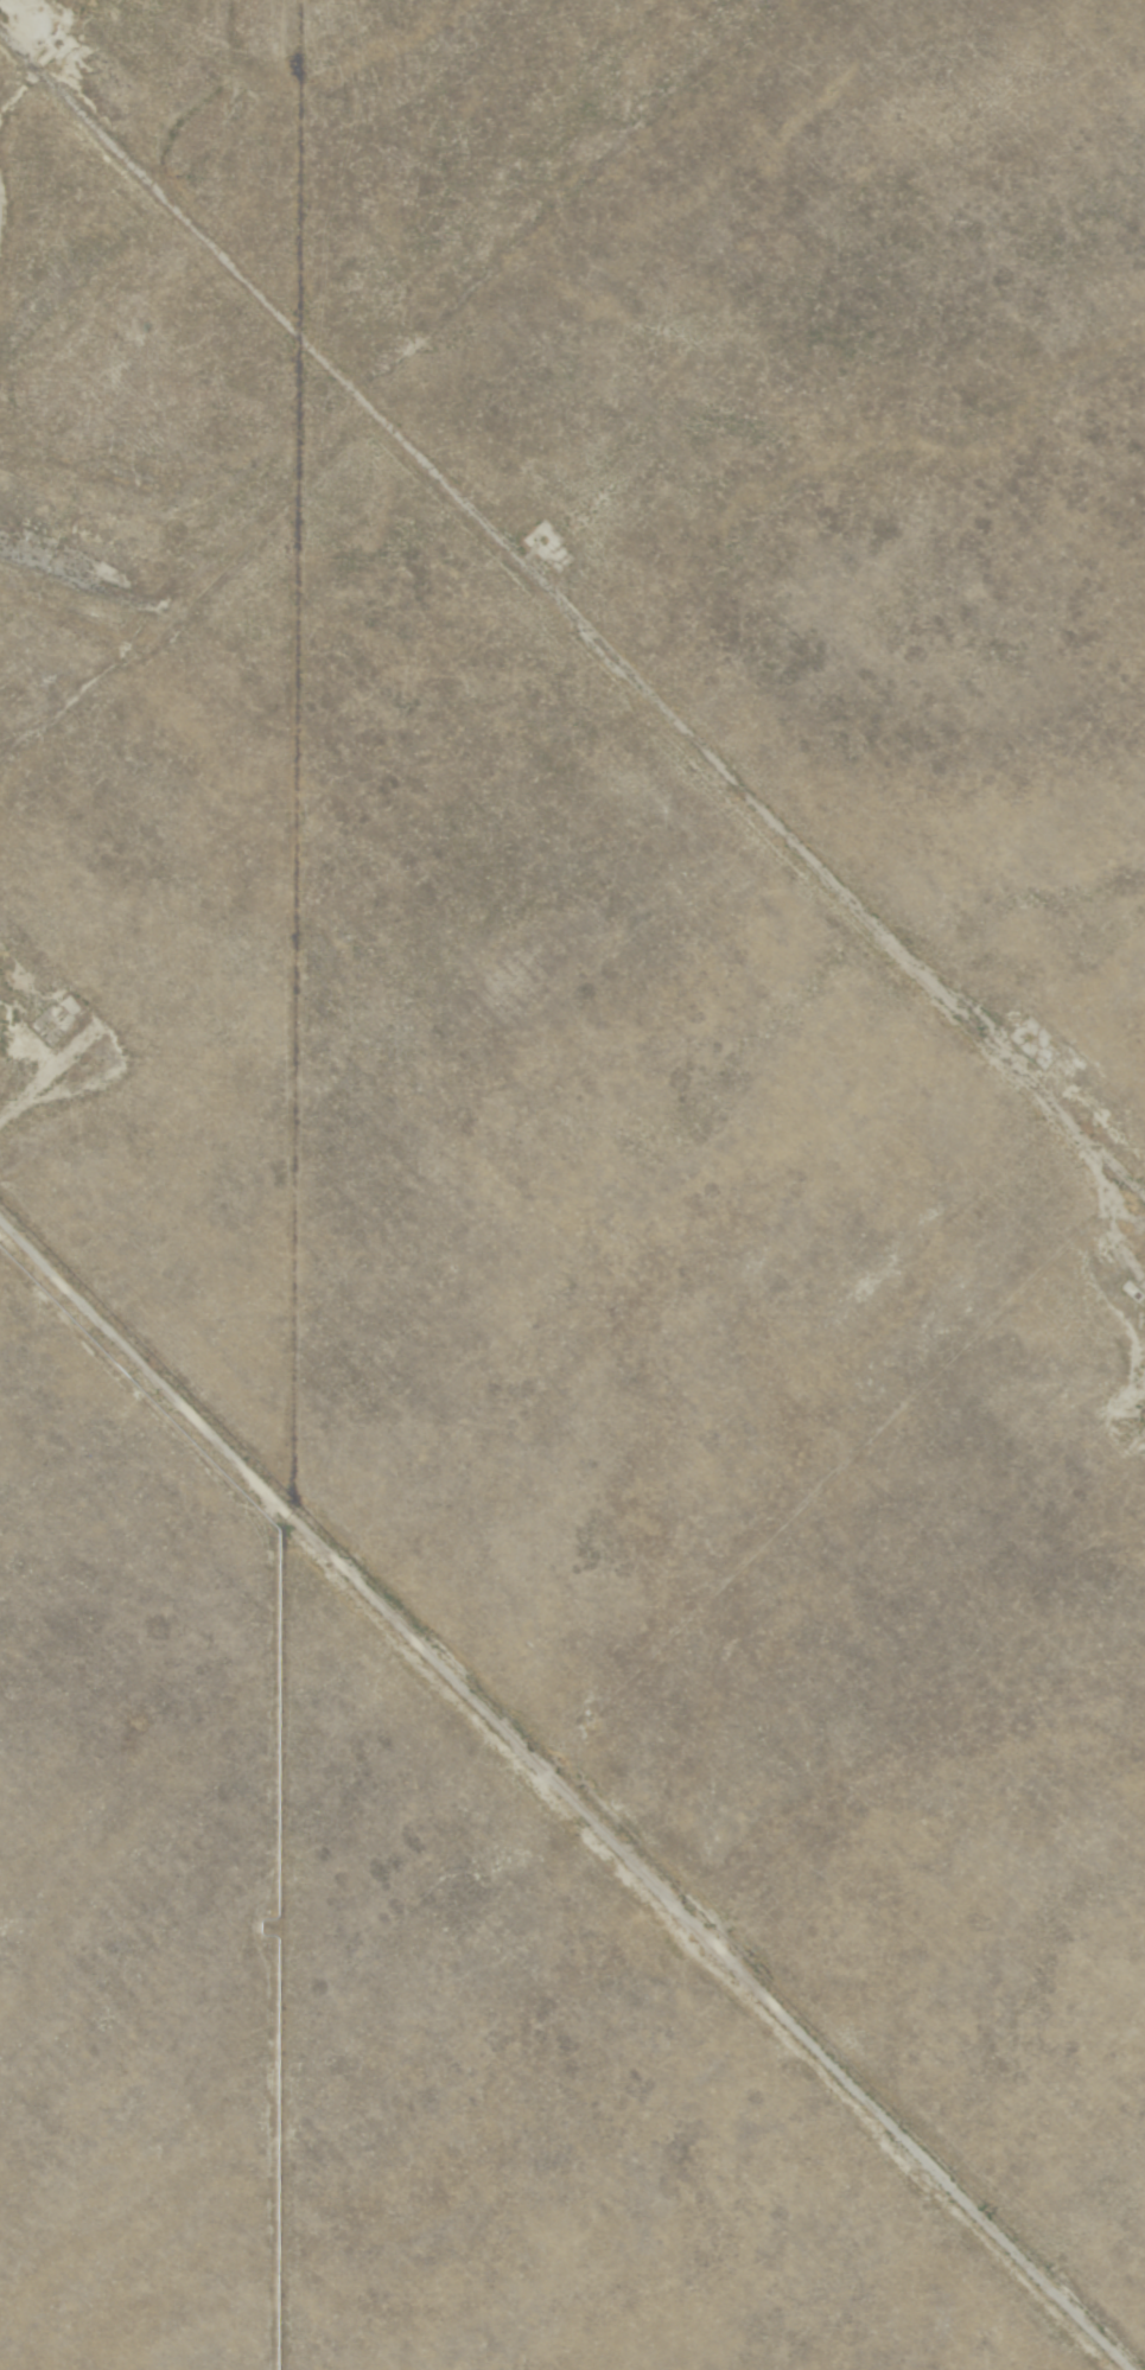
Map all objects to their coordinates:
road: (300, 348)
road: (299, 630)
road: (873, 930)
road: (561, 1798)

